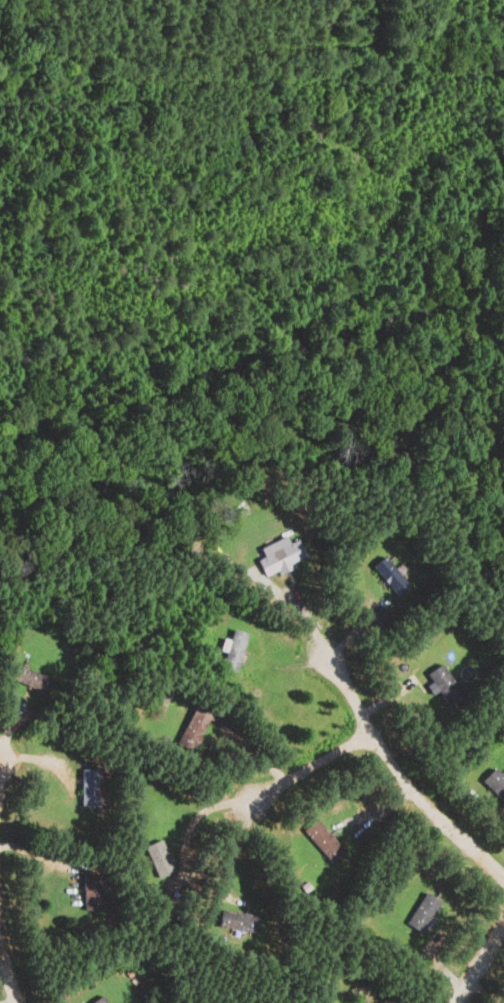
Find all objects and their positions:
road: (3, 158)
building: (280, 556)
building: (392, 576)
road: (309, 622)
road: (357, 631)
building: (235, 650)
road: (267, 653)
building: (34, 680)
building: (445, 684)
building: (161, 698)
road: (388, 701)
road: (11, 726)
building: (196, 728)
road: (254, 753)
road: (36, 758)
road: (313, 767)
road: (402, 776)
building: (496, 784)
building: (91, 788)
road: (382, 810)
road: (496, 810)
road: (194, 823)
building: (325, 841)
road: (235, 846)
road: (42, 856)
building: (160, 859)
building: (93, 893)
building: (424, 913)
building: (239, 921)
road: (480, 962)
road: (432, 964)
road: (7, 976)
road: (486, 992)
building: (102, 1000)
road: (12, 1001)
building: (366, 1002)

